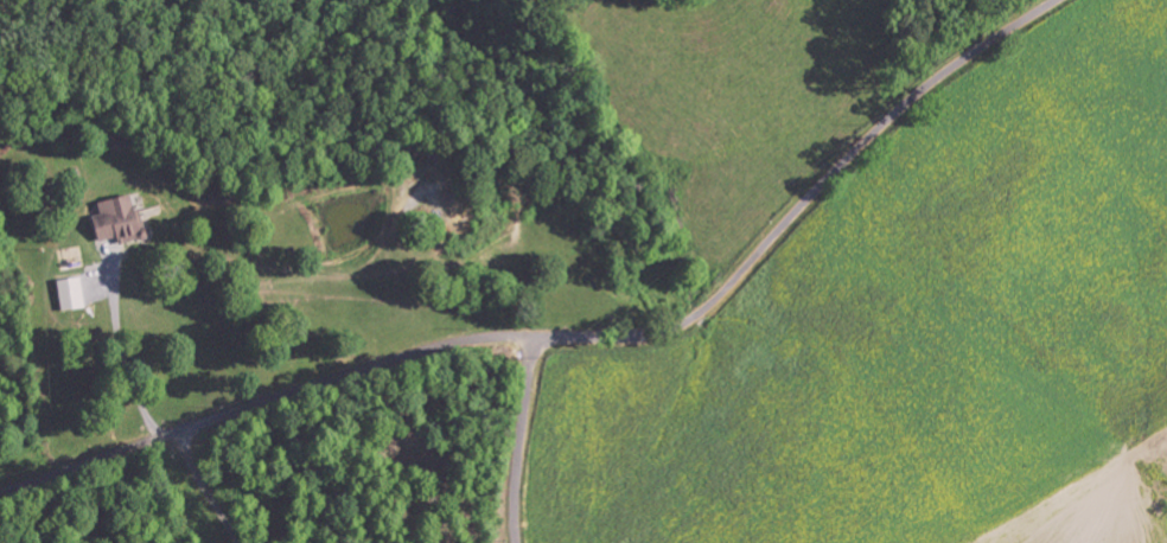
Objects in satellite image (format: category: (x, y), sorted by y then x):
building: (114, 221)
road: (578, 339)
road: (517, 440)
road: (204, 487)

